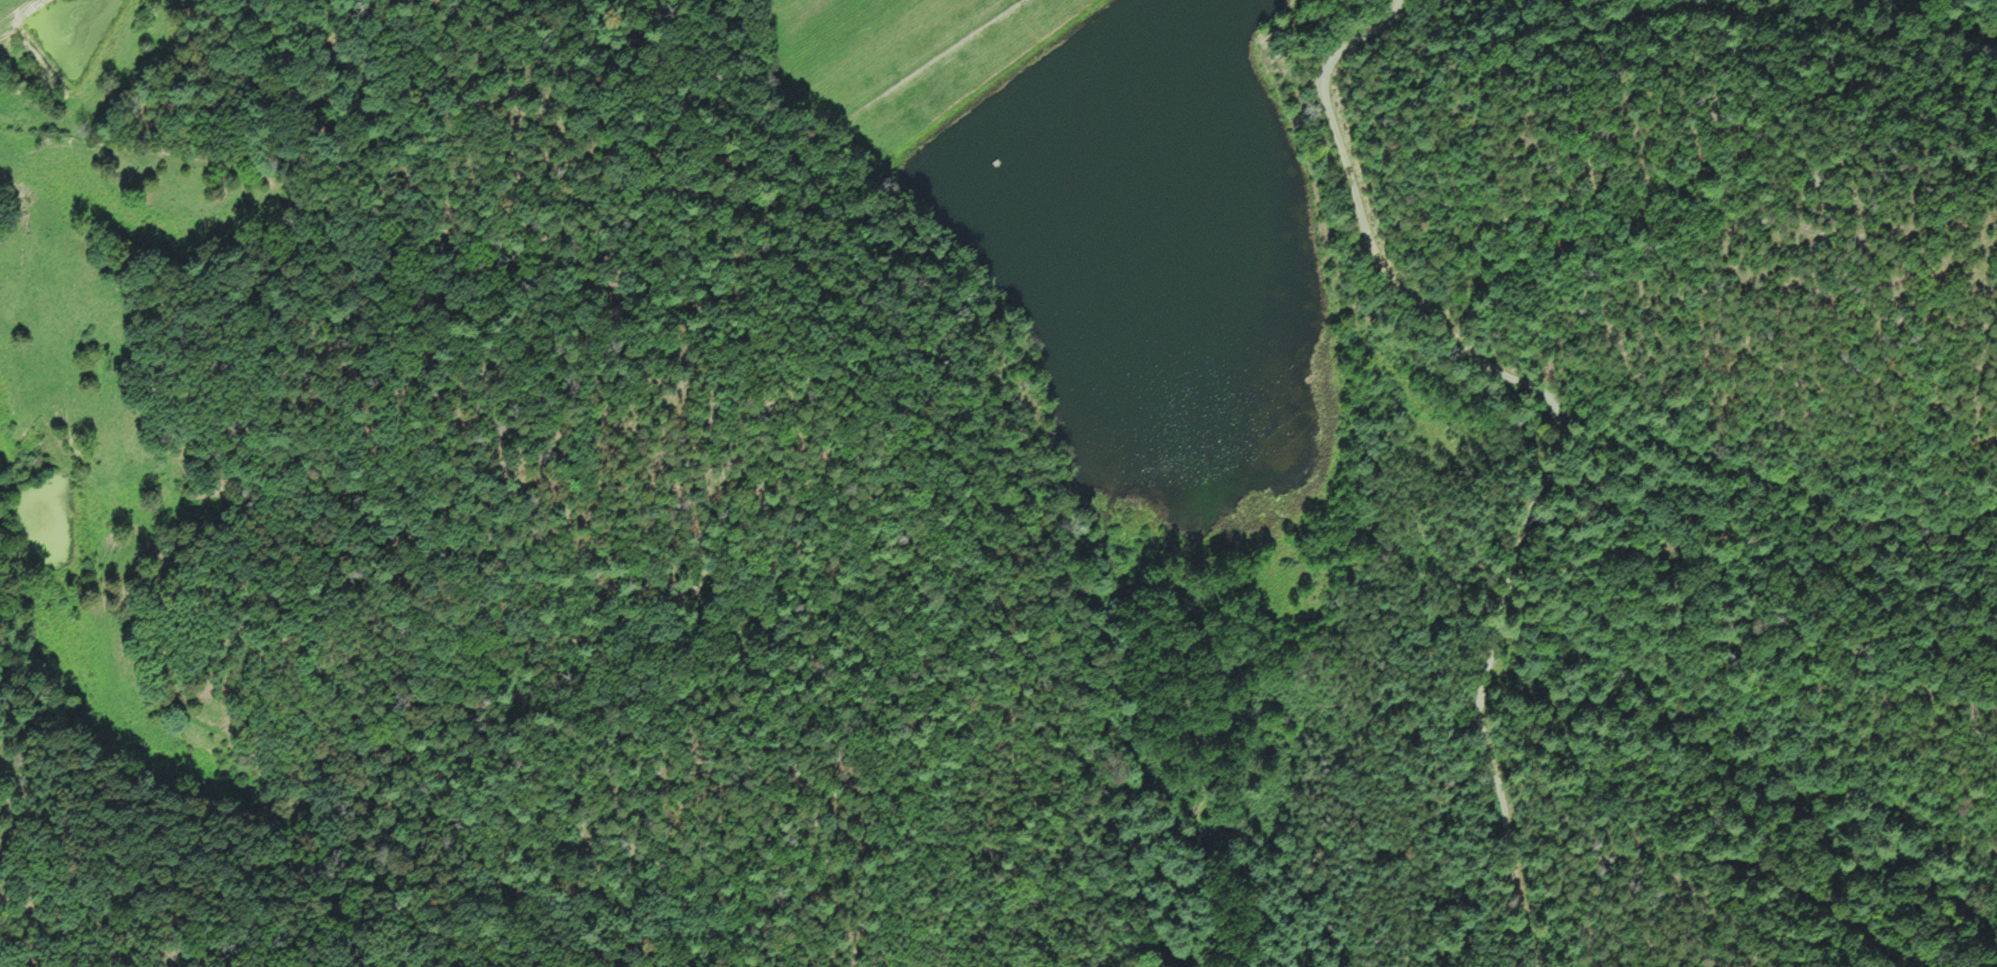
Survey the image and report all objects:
dam: (860, 35)
road: (1519, 429)

